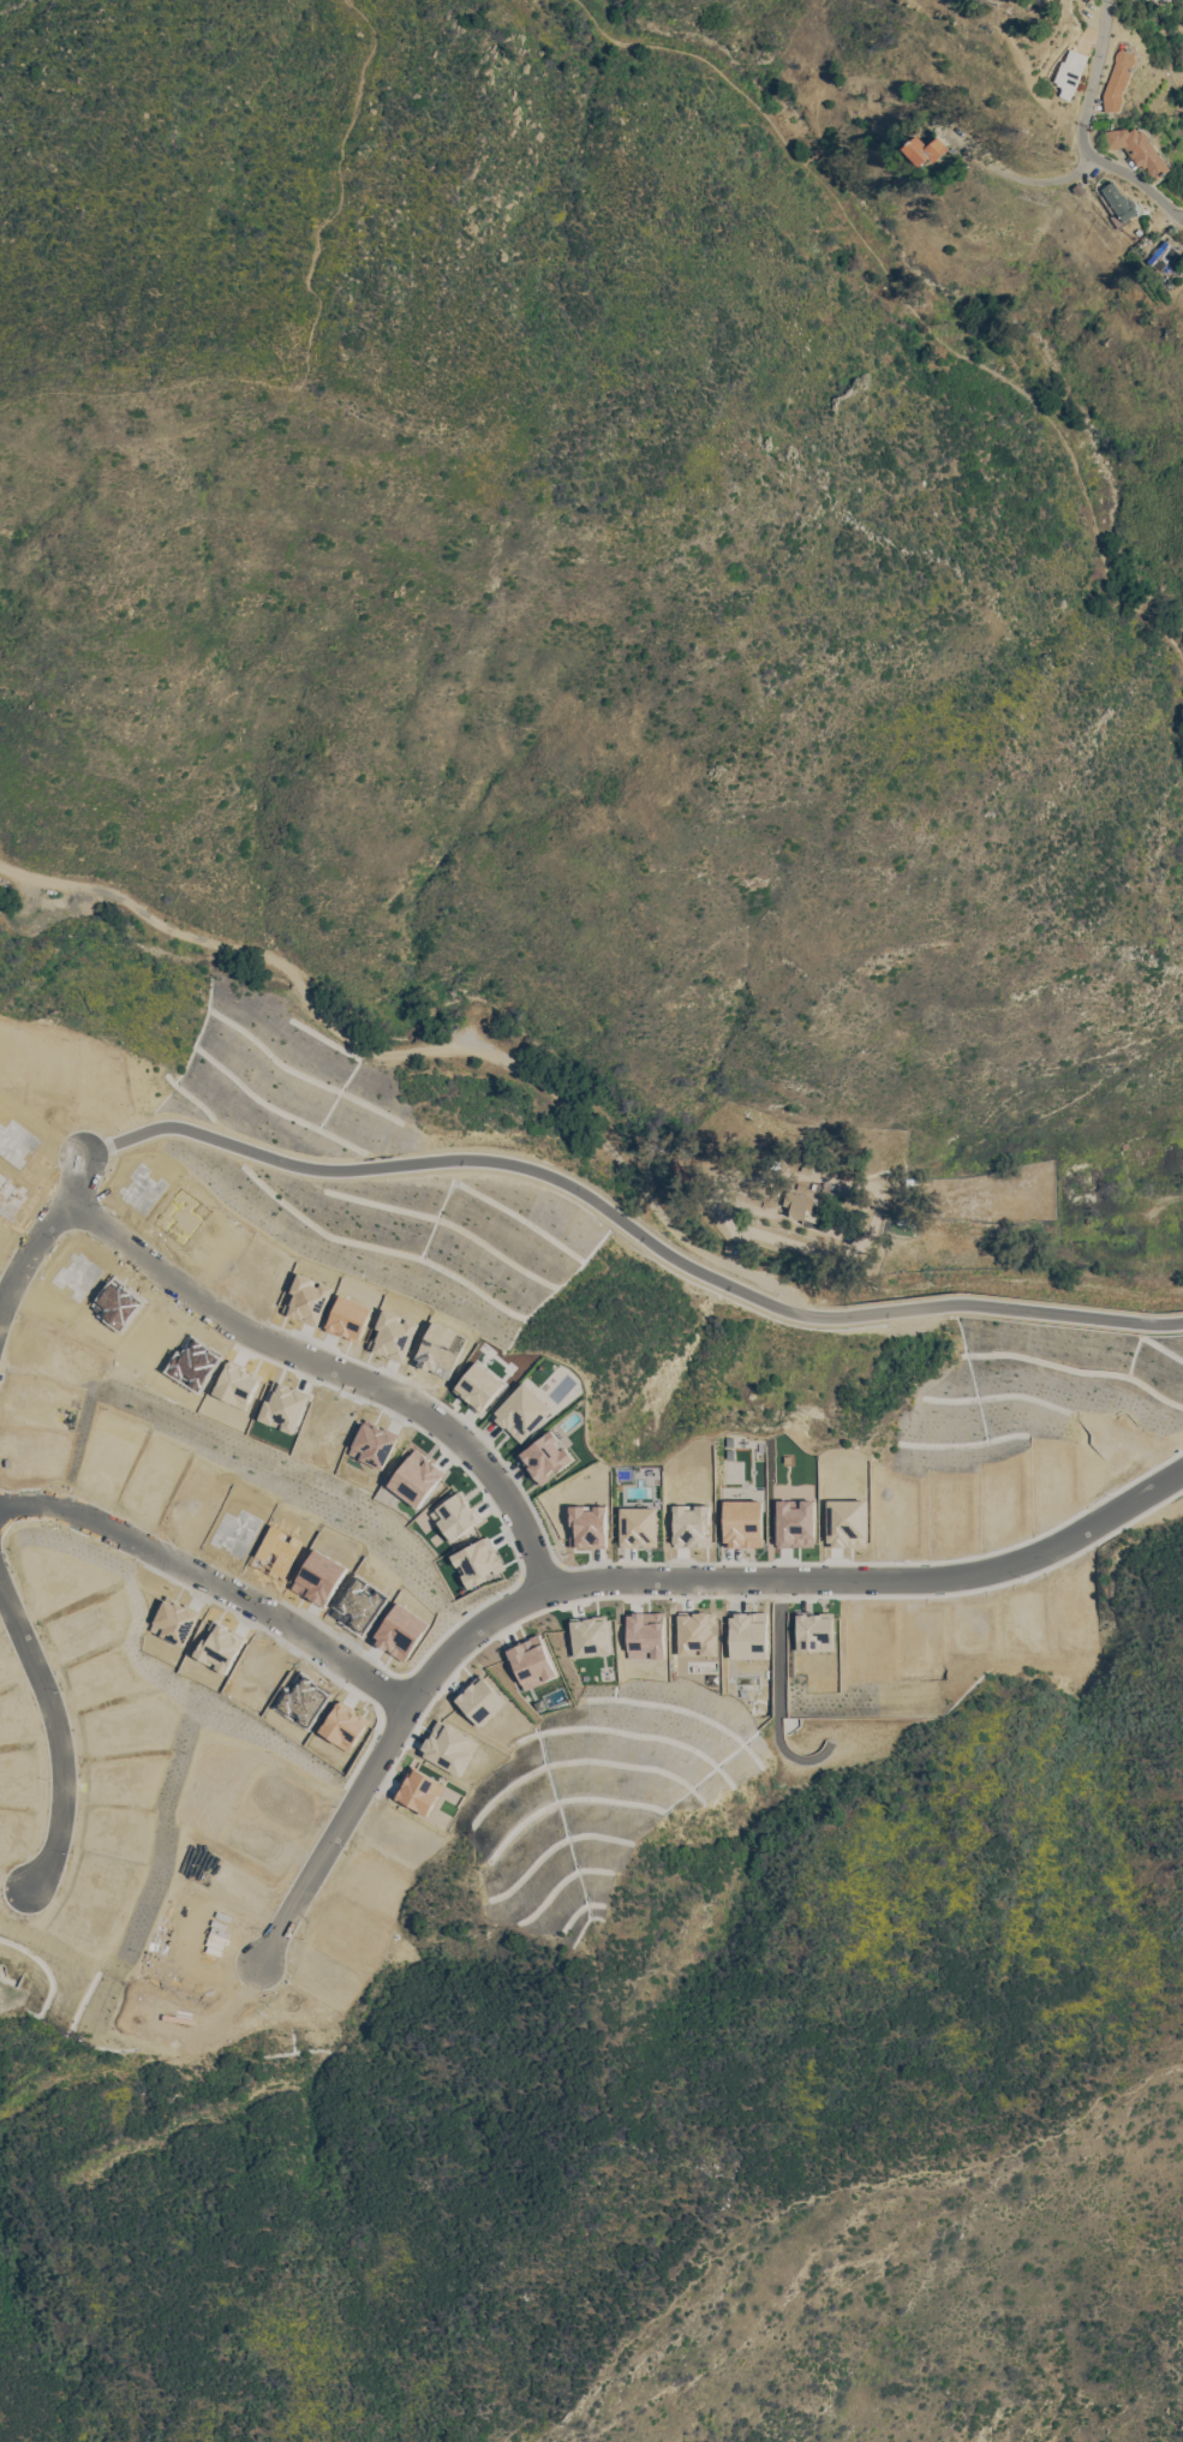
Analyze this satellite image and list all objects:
road: (1097, 60)
building: (1071, 70)
building: (1119, 78)
building: (1139, 148)
building: (926, 149)
road: (1123, 172)
road: (1017, 177)
building: (1080, 187)
building: (1123, 201)
building: (1164, 253)
road: (910, 303)
road: (310, 330)
park: (1060, 1026)
road: (422, 1049)
road: (453, 1158)
building: (806, 1168)
building: (801, 1186)
building: (815, 1188)
building: (832, 1188)
building: (797, 1202)
building: (906, 1219)
road: (42, 1230)
road: (987, 1304)
road: (334, 1367)
road: (1131, 1479)
road: (1128, 1521)
road: (635, 1580)
road: (211, 1583)
road: (777, 1692)
road: (55, 1736)
road: (821, 2196)

